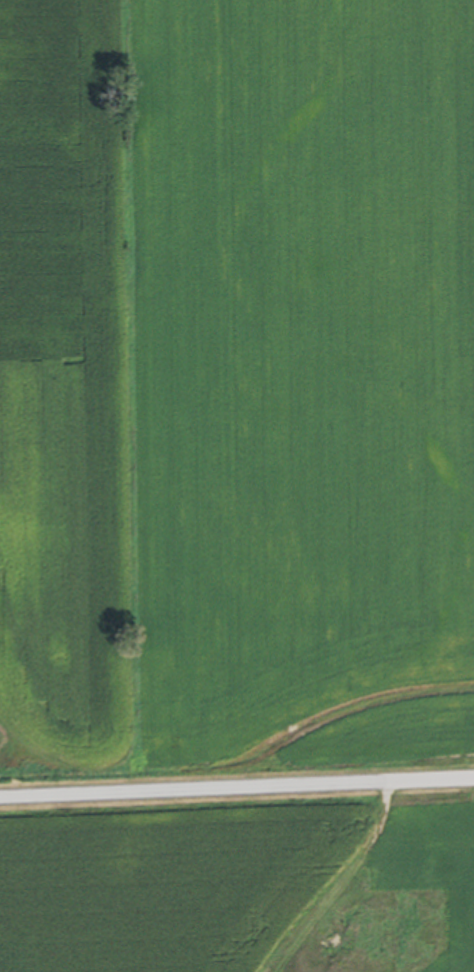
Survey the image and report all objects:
road: (236, 787)

